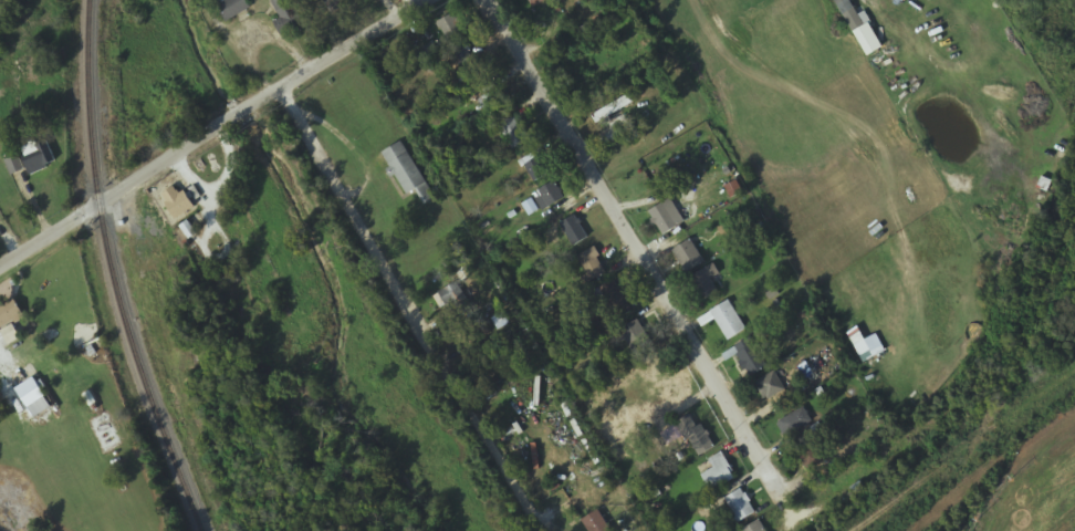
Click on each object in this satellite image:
building: (536, 2)
building: (337, 4)
building: (231, 8)
building: (288, 15)
building: (852, 15)
building: (451, 27)
building: (428, 55)
building: (471, 63)
building: (494, 104)
road: (218, 129)
building: (514, 134)
building: (39, 157)
building: (14, 165)
building: (537, 170)
building: (408, 173)
building: (549, 196)
building: (180, 202)
building: (664, 219)
building: (573, 232)
building: (689, 258)
road: (645, 267)
railway: (112, 271)
building: (227, 278)
building: (707, 283)
building: (457, 301)
building: (615, 301)
building: (9, 314)
road: (405, 315)
building: (729, 322)
building: (637, 339)
building: (750, 358)
building: (660, 373)
railway: (1005, 381)
building: (771, 386)
building: (31, 393)
building: (795, 423)
building: (697, 437)
building: (811, 457)
building: (719, 473)
railway: (1005, 475)
building: (740, 507)
building: (596, 523)
building: (756, 528)

